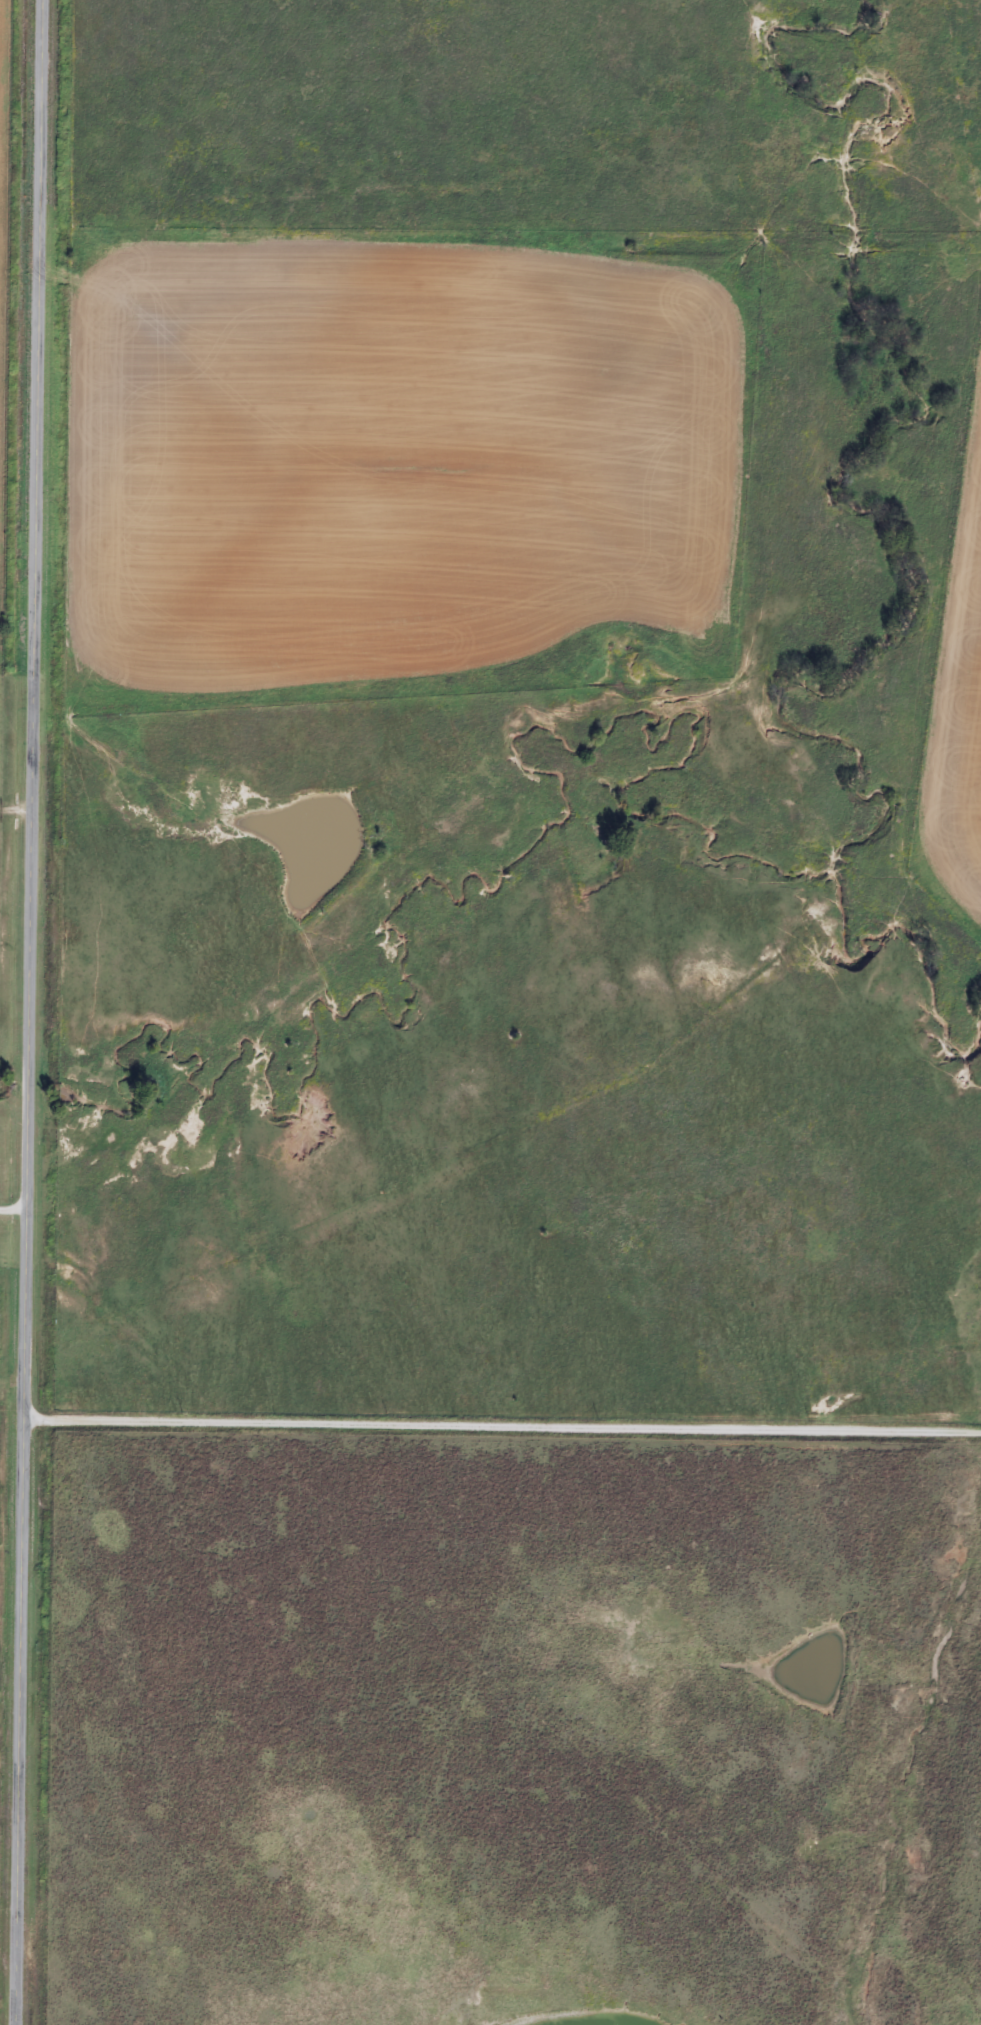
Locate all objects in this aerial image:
road: (31, 1012)
road: (503, 1424)

